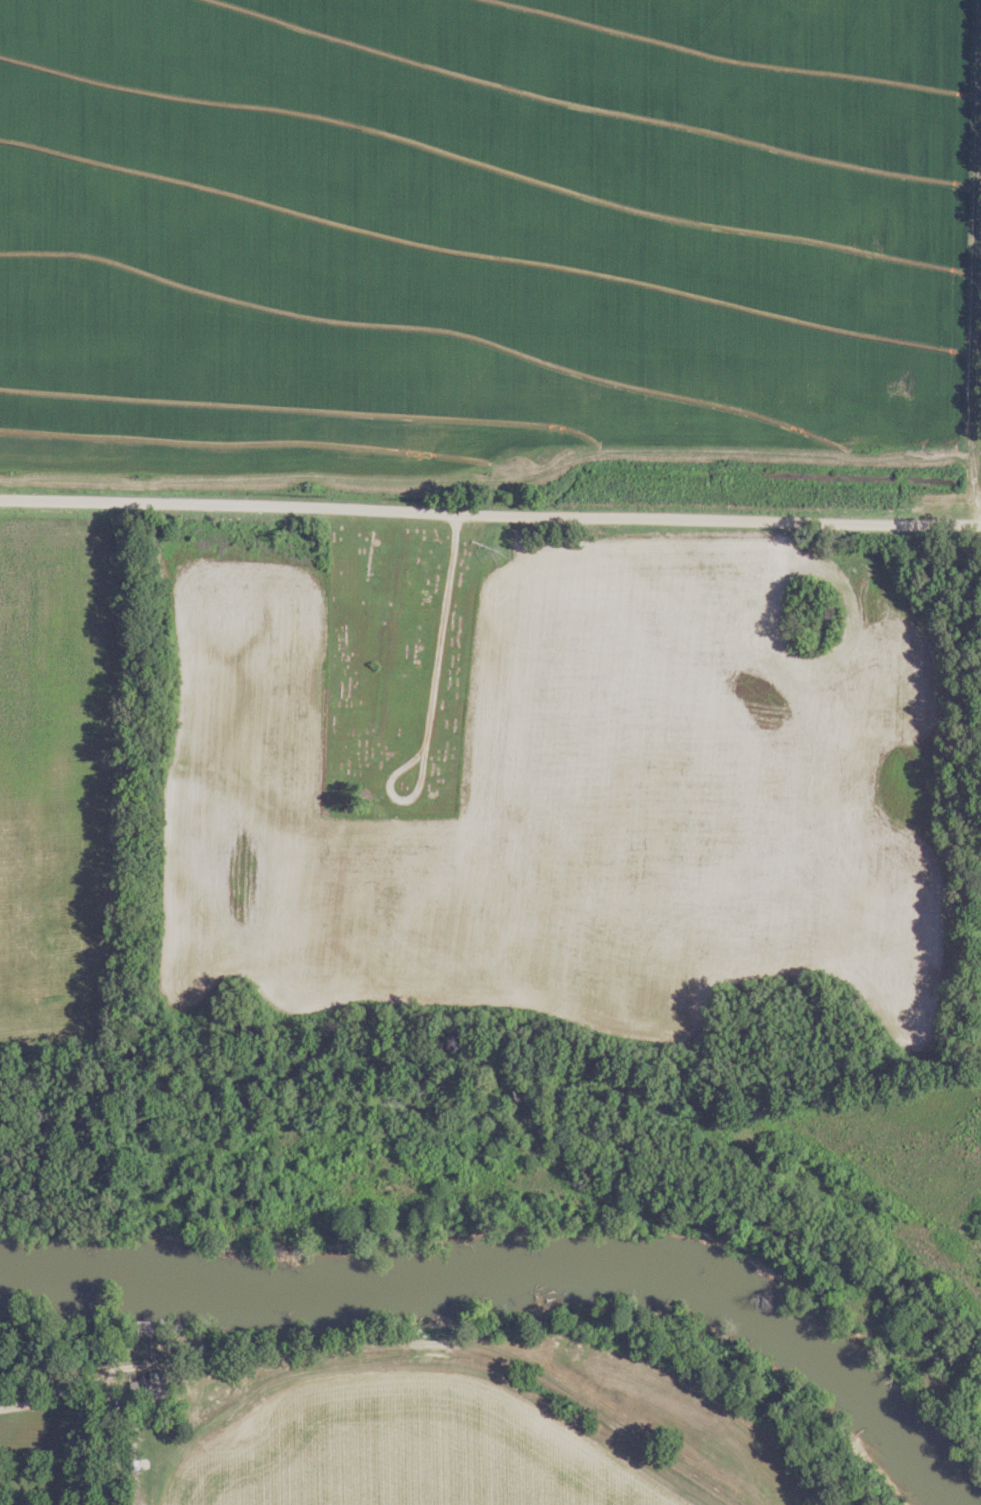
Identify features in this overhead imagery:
road: (970, 492)
road: (490, 516)
road: (439, 635)
park: (394, 670)
road: (401, 770)
river: (520, 1270)
road: (257, 1364)
building: (151, 1389)

